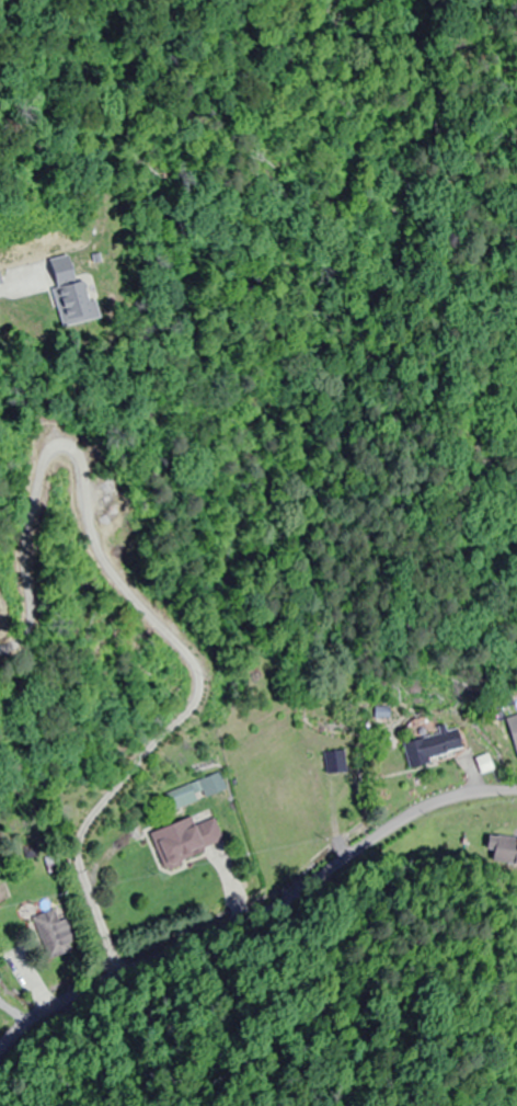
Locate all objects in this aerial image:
building: (514, 727)
building: (444, 743)
building: (336, 762)
building: (196, 791)
building: (294, 803)
building: (187, 840)
building: (502, 852)
building: (0, 903)
building: (54, 935)
road: (290, 951)

